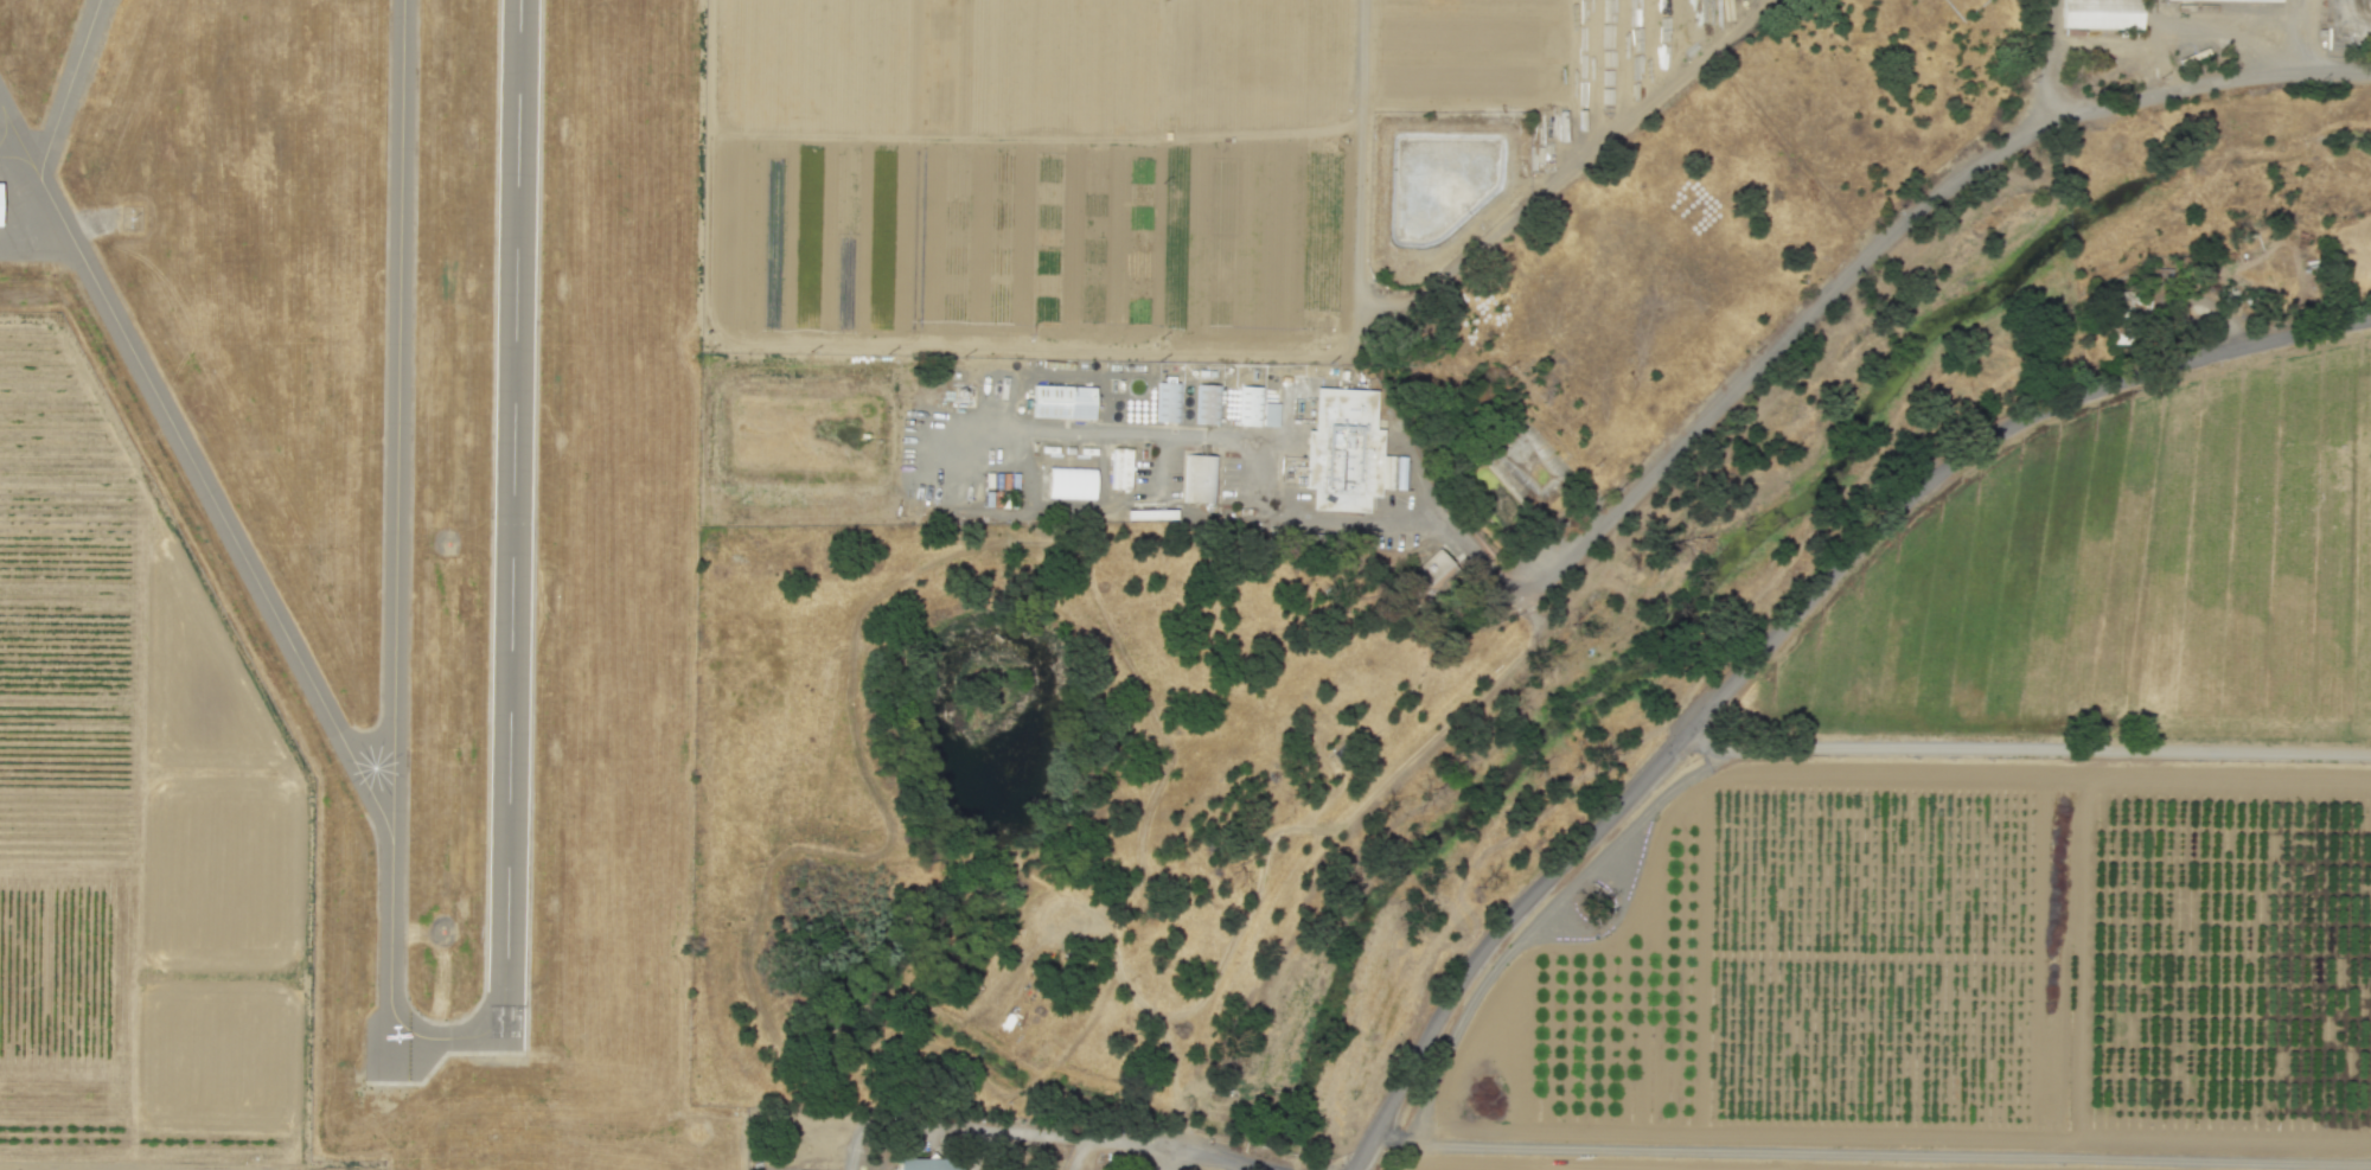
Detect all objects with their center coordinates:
building: (2226, 1)
road: (2153, 13)
building: (2103, 15)
road: (2191, 27)
road: (2275, 28)
road: (2311, 36)
road: (2098, 43)
road: (2045, 60)
airport taxiway: (66, 87)
road: (1359, 164)
road: (1574, 167)
airport apron: (34, 187)
building: (0, 196)
road: (1884, 237)
road: (1042, 347)
building: (1168, 402)
building: (1207, 403)
building: (1066, 404)
building: (1255, 408)
road: (1251, 449)
building: (1346, 449)
building: (1120, 467)
airport taxiway: (194, 468)
building: (1201, 479)
building: (1074, 485)
road: (1130, 498)
building: (1144, 513)
airport taxiway: (395, 518)
airport runway: (511, 525)
airport: (408, 541)
building: (1426, 571)
road: (1776, 629)
road: (2027, 752)
crop: (2012, 839)
airport taxiway: (446, 1037)
road: (1036, 1130)
road: (1079, 1152)
road: (1872, 1153)
road: (1167, 1158)
building: (929, 1165)
road: (1270, 1165)

